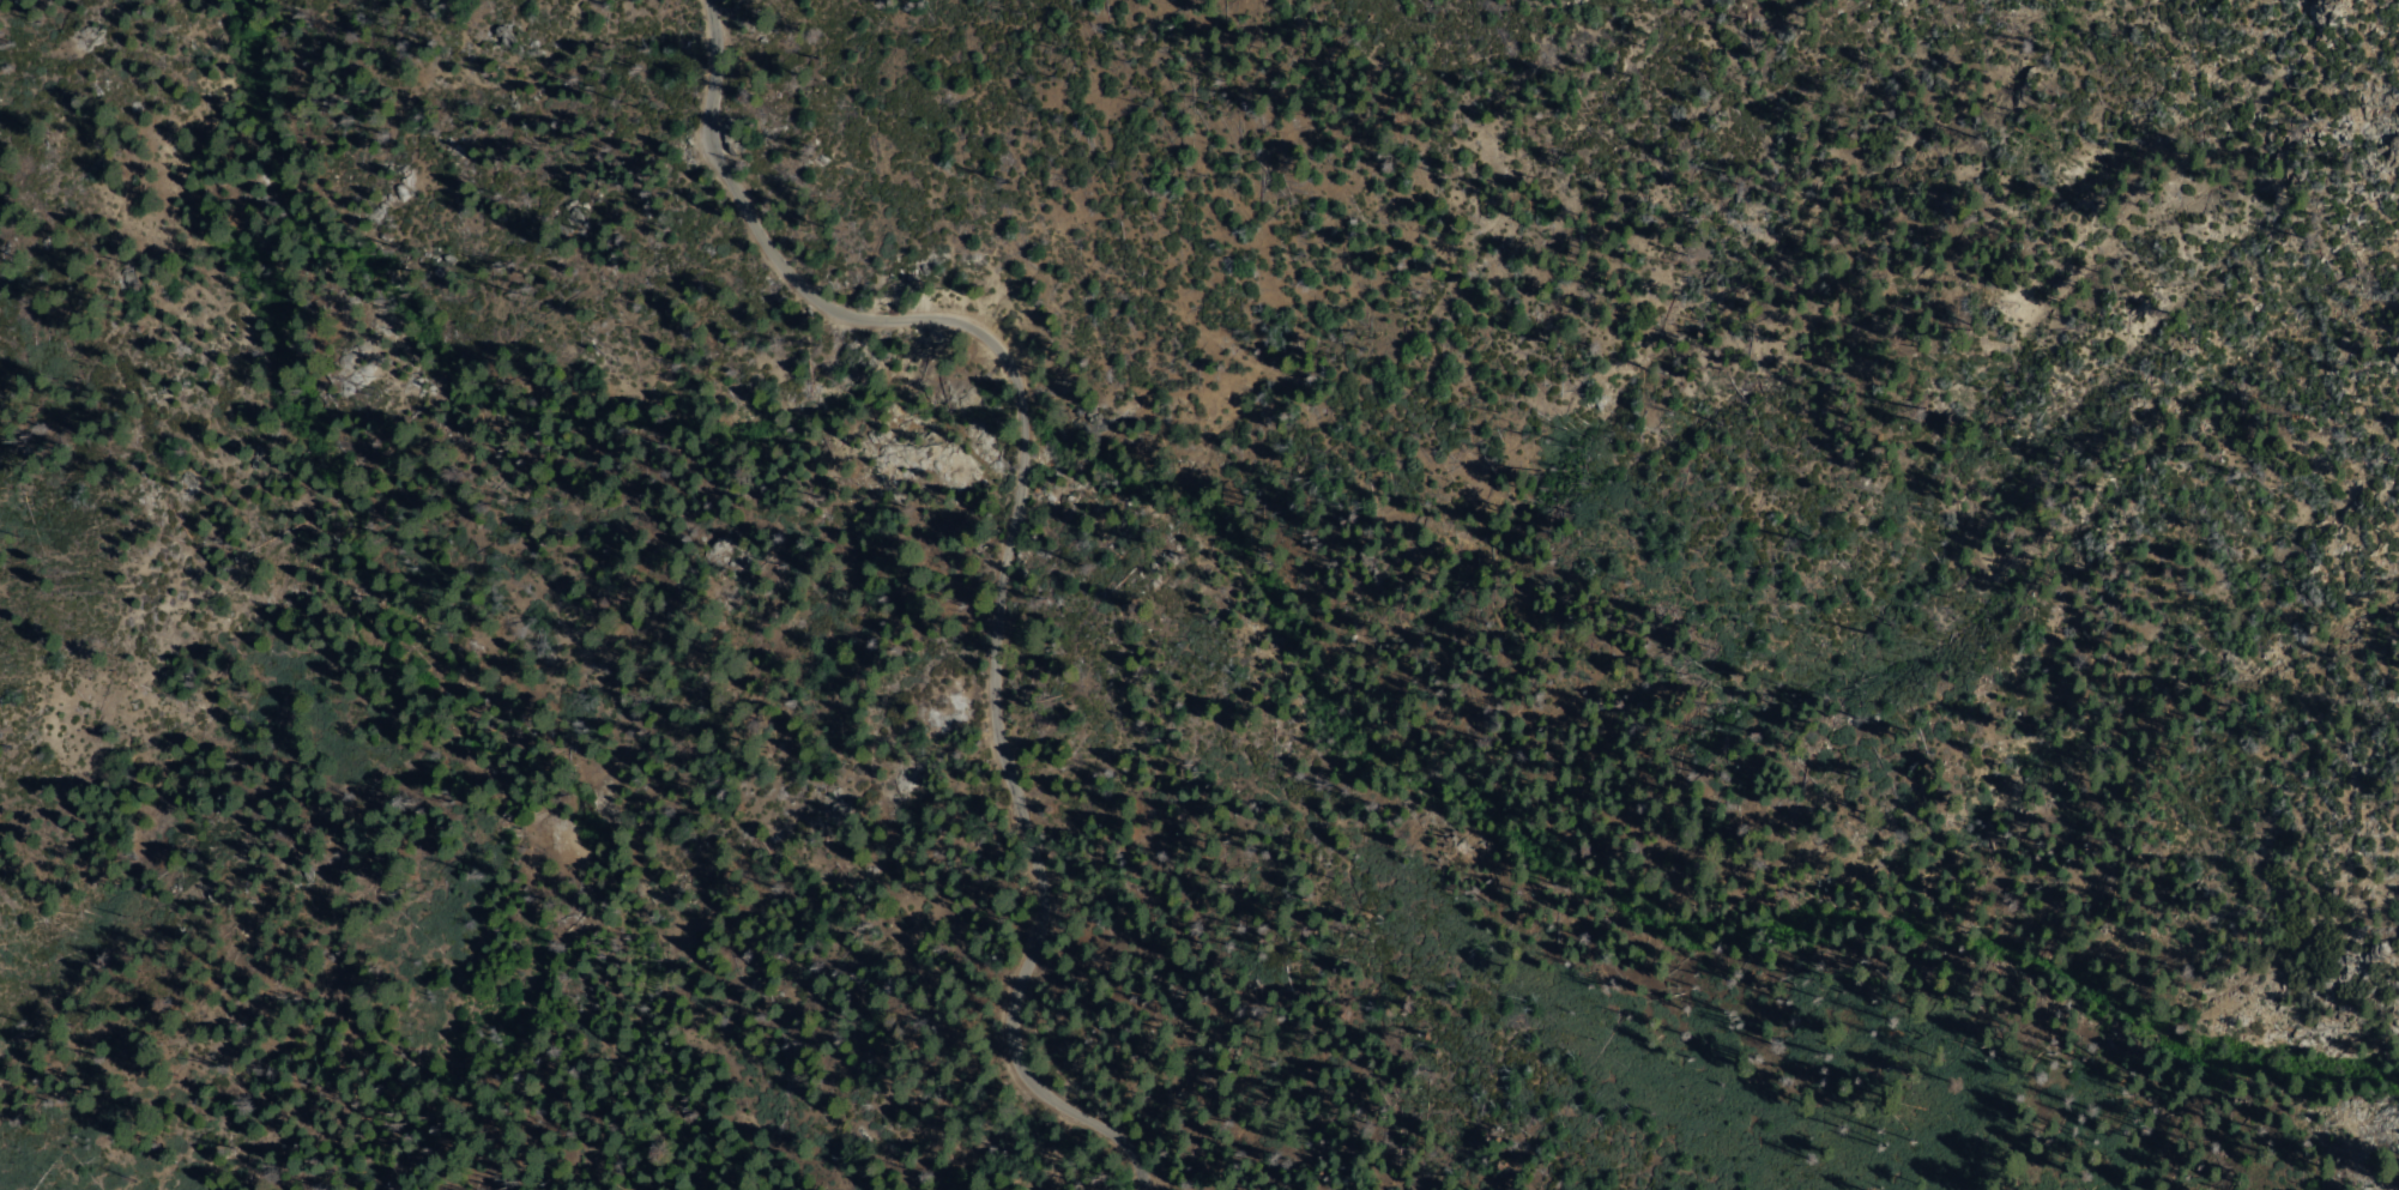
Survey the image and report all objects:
road: (1019, 537)

